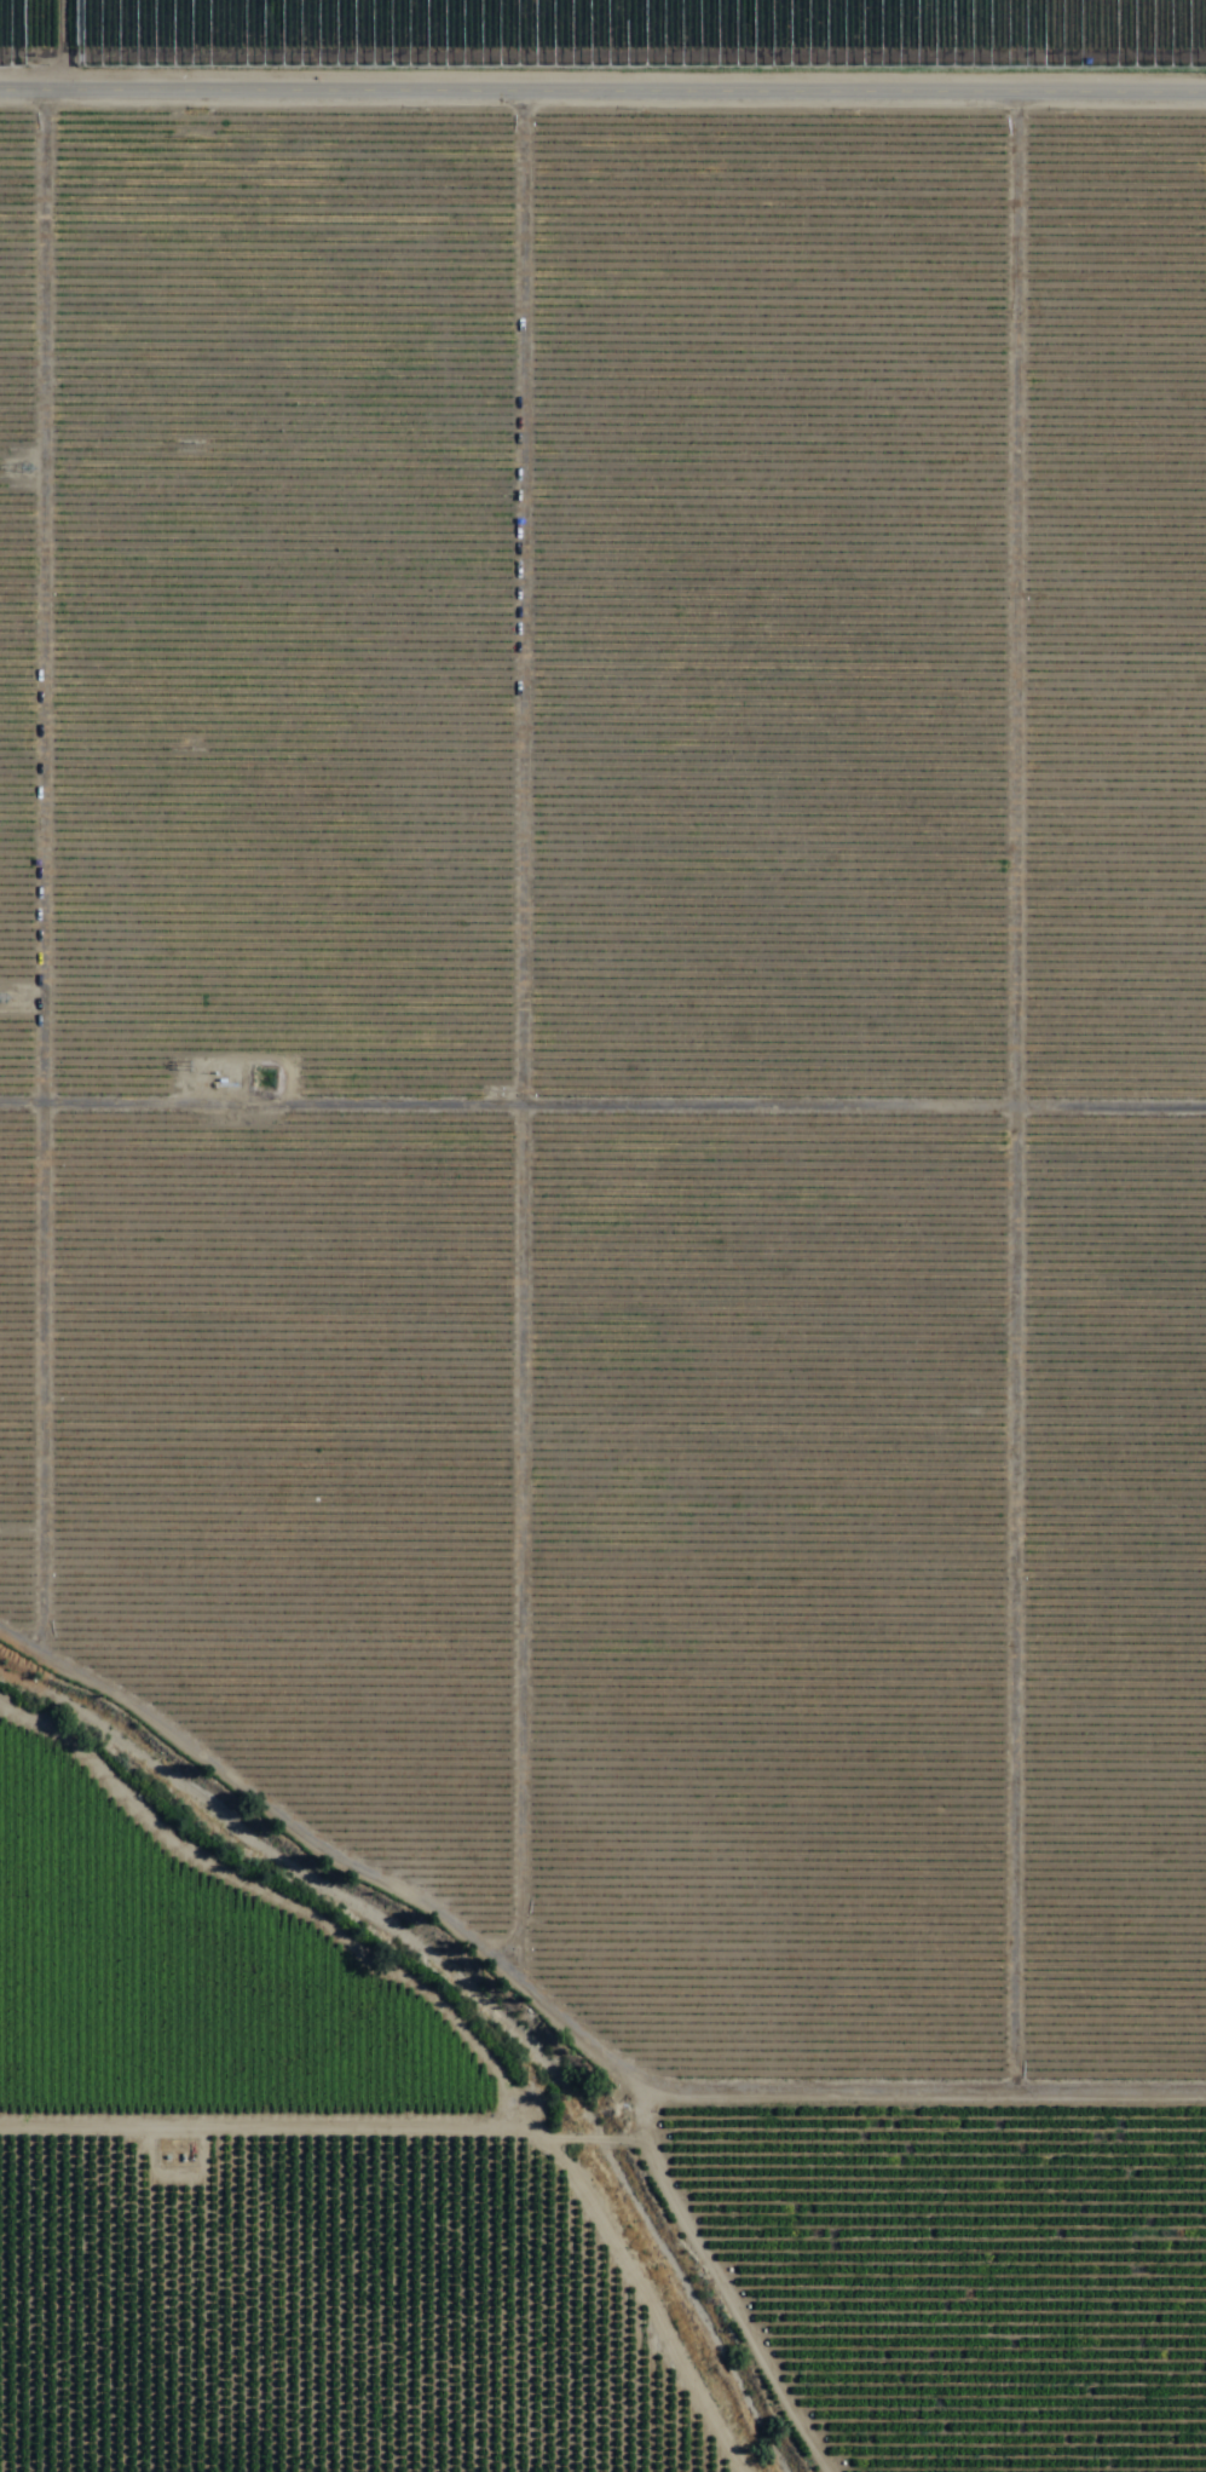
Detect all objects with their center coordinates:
road: (602, 96)
power tower: (28, 469)
power tower: (2, 997)
crop: (624, 1151)
road: (590, 2133)
road: (588, 2324)

